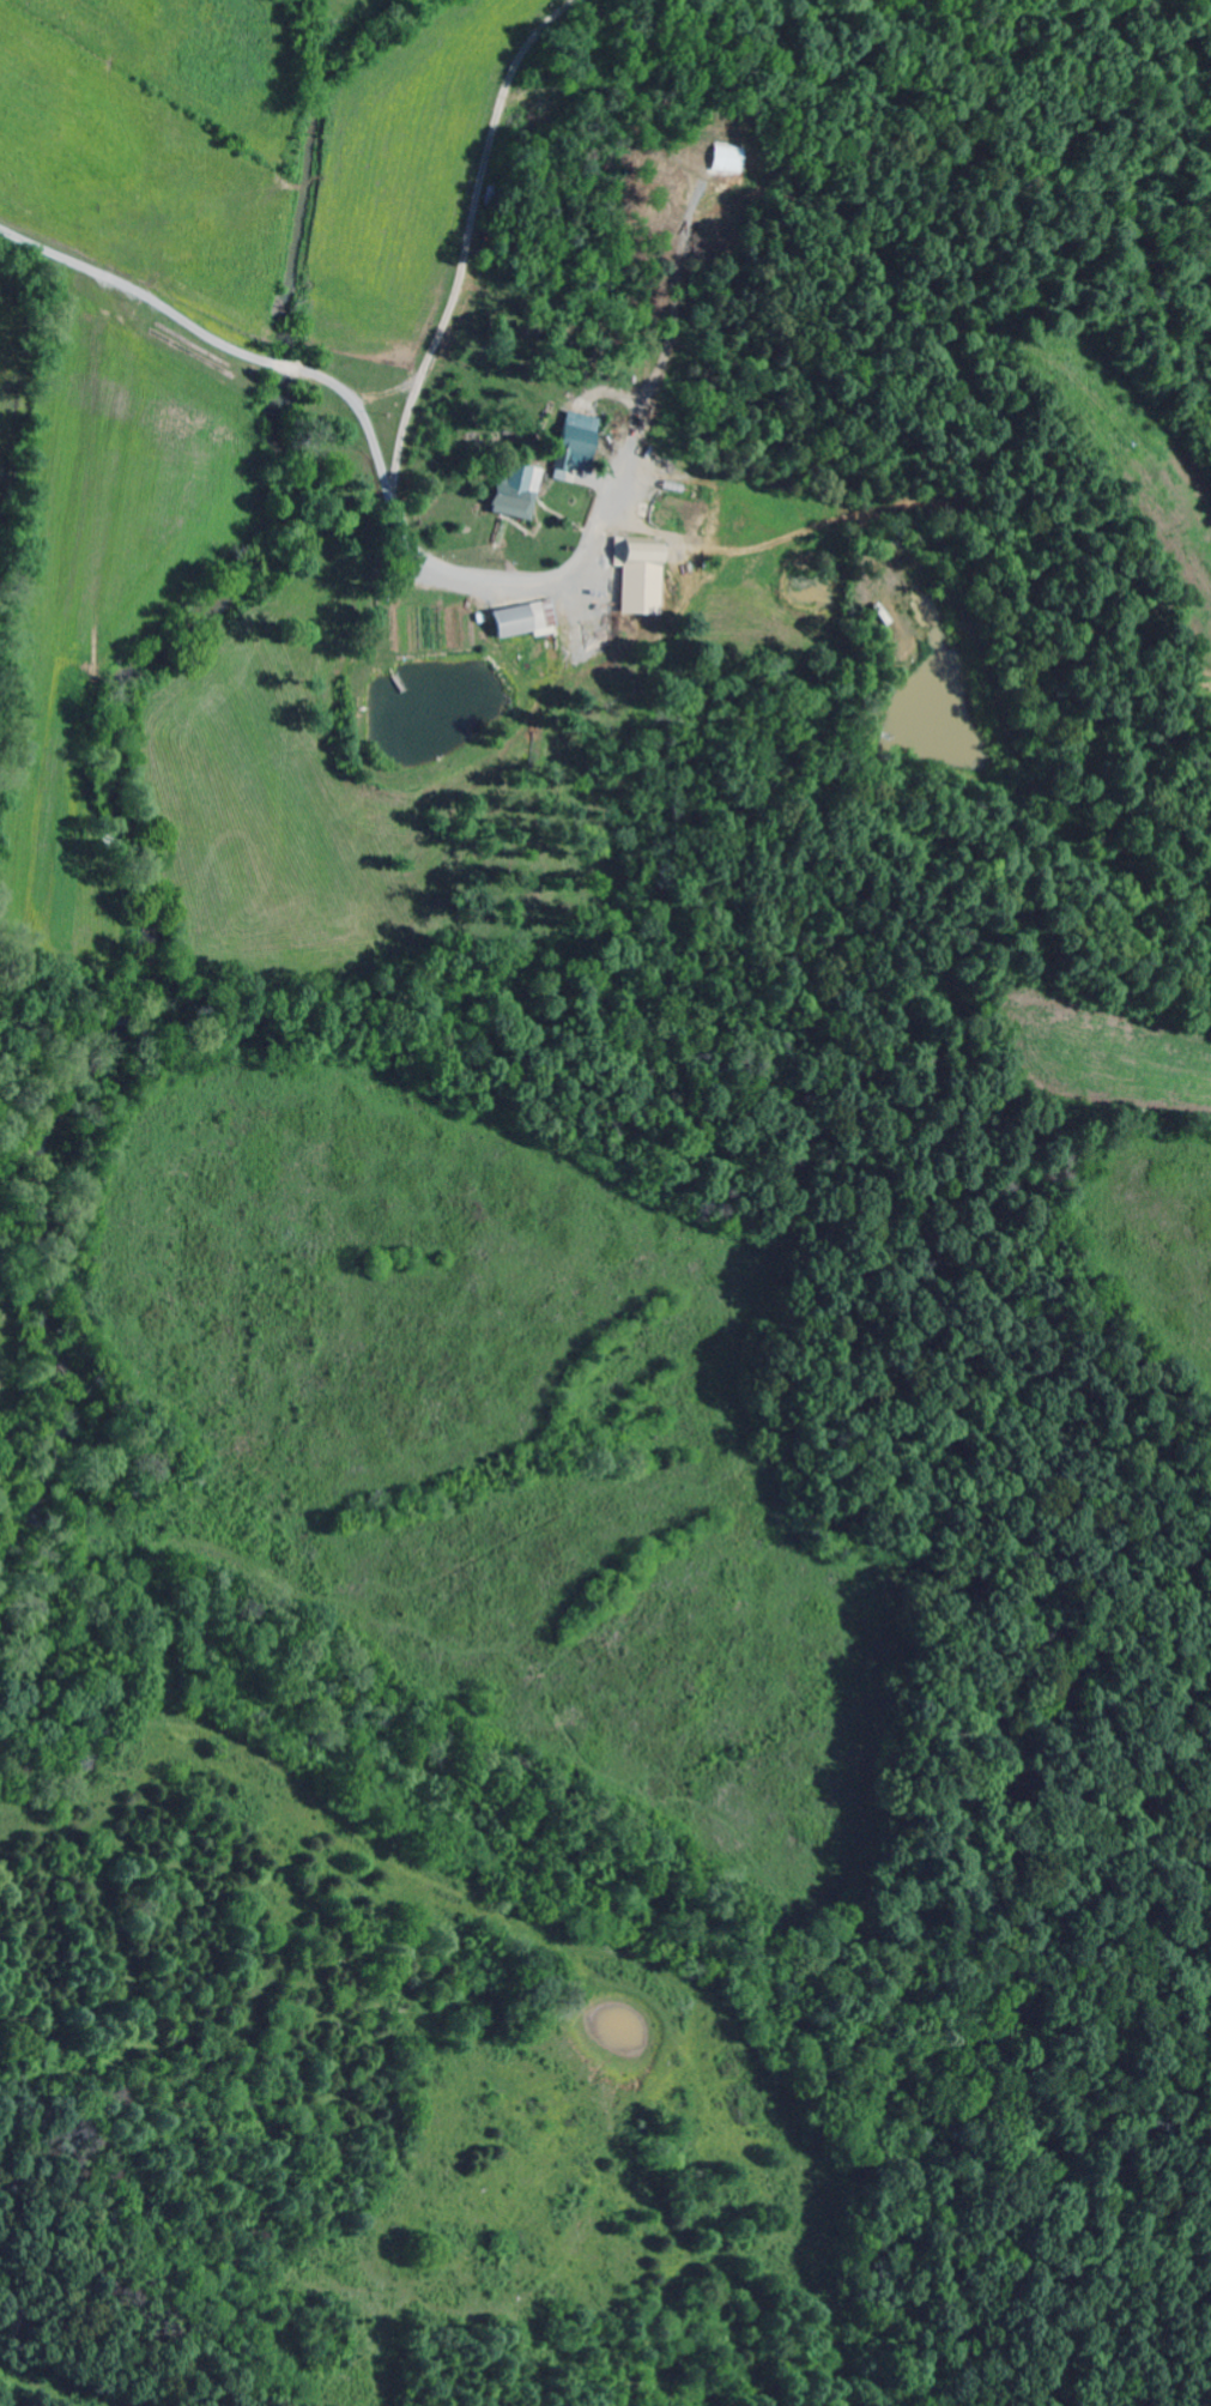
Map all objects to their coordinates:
building: (573, 441)
building: (510, 491)
building: (637, 561)
building: (520, 619)

